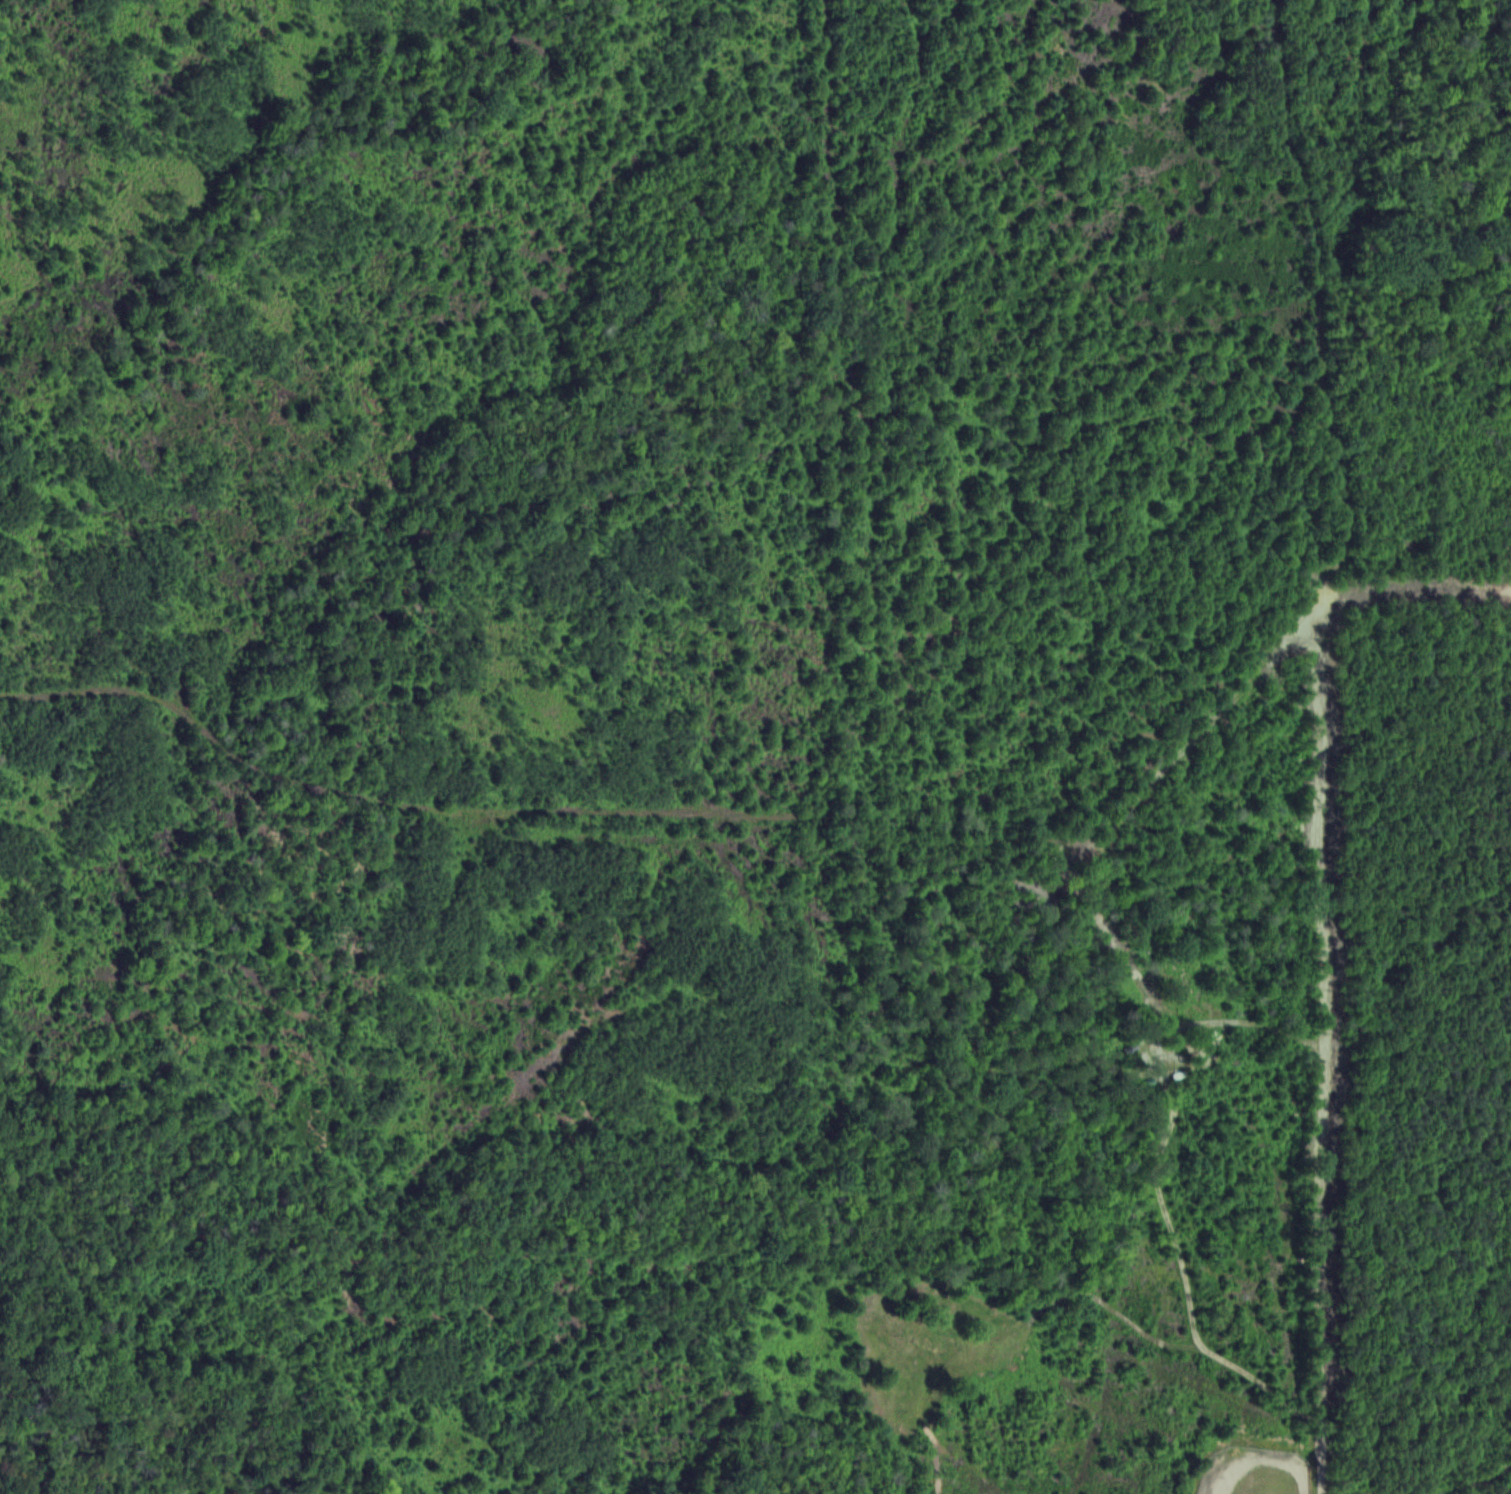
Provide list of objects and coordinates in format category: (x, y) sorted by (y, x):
building: (1174, 1068)

